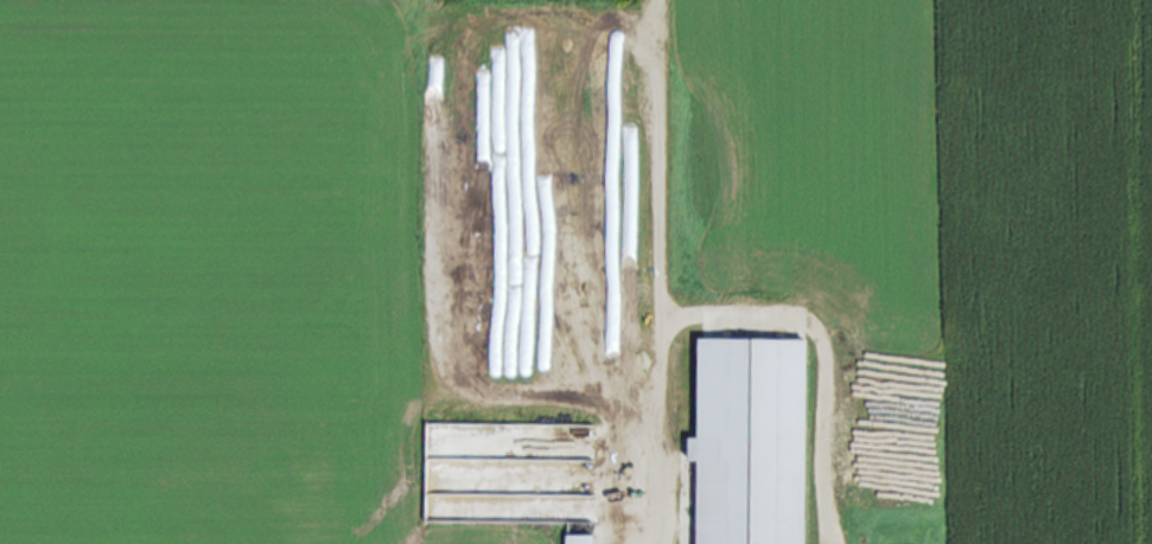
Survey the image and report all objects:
building: (750, 442)
building: (580, 540)

